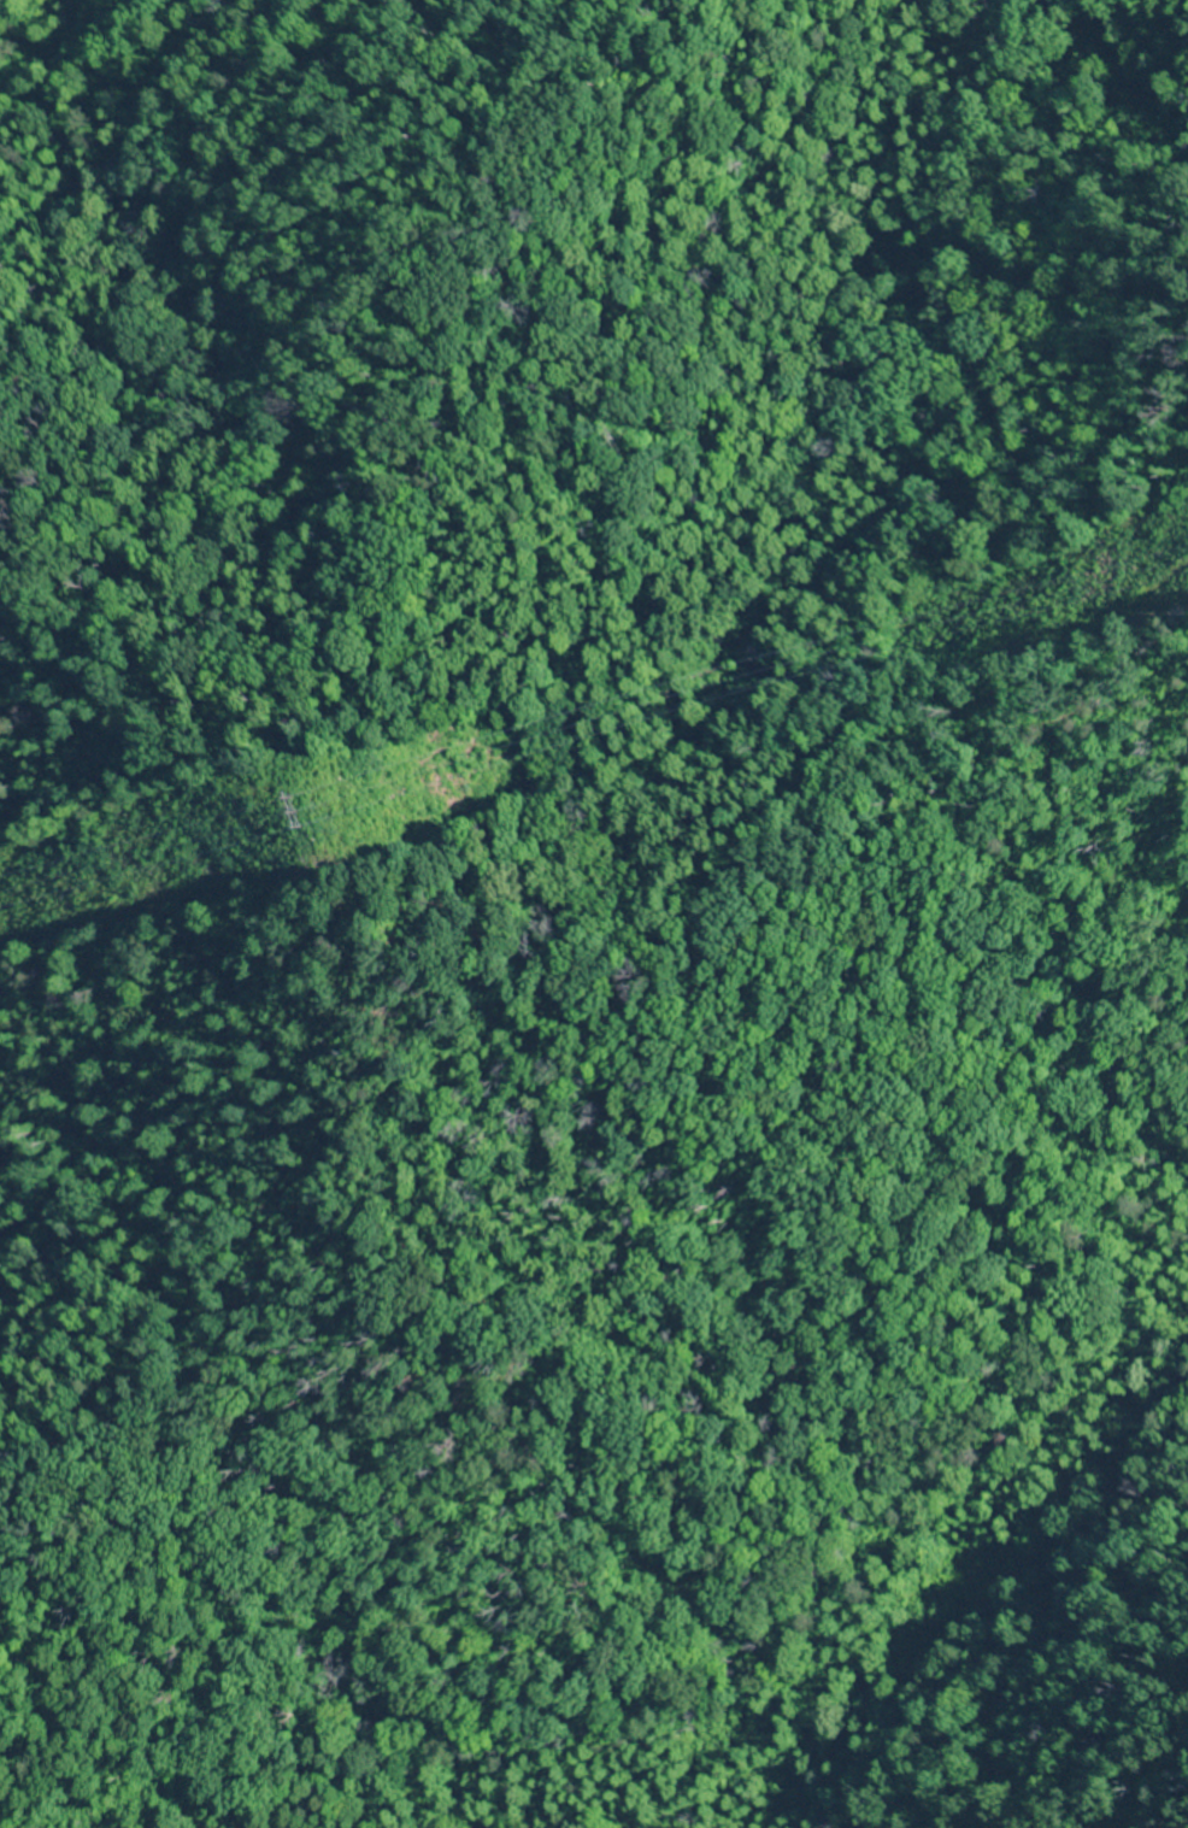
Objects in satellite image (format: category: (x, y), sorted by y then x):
road: (48, 25)

